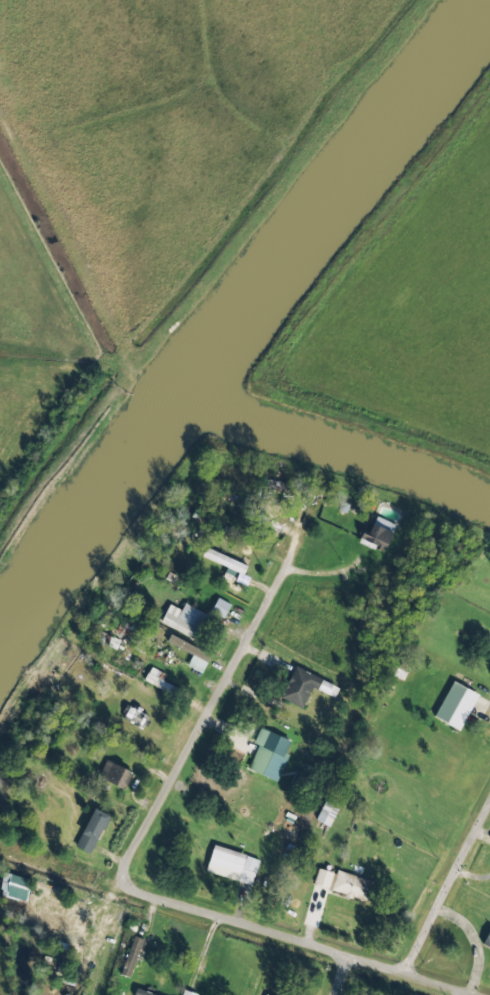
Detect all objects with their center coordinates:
building: (378, 534)
building: (225, 562)
building: (220, 608)
building: (185, 620)
building: (191, 653)
building: (158, 680)
building: (305, 687)
building: (456, 705)
building: (136, 717)
road: (198, 732)
building: (269, 754)
building: (115, 774)
building: (327, 814)
building: (92, 831)
building: (232, 865)
building: (323, 878)
building: (352, 886)
building: (15, 887)
road: (446, 889)
building: (487, 941)
road: (316, 945)
building: (131, 956)
road: (343, 975)
building: (142, 992)
building: (188, 993)
building: (265, 994)

